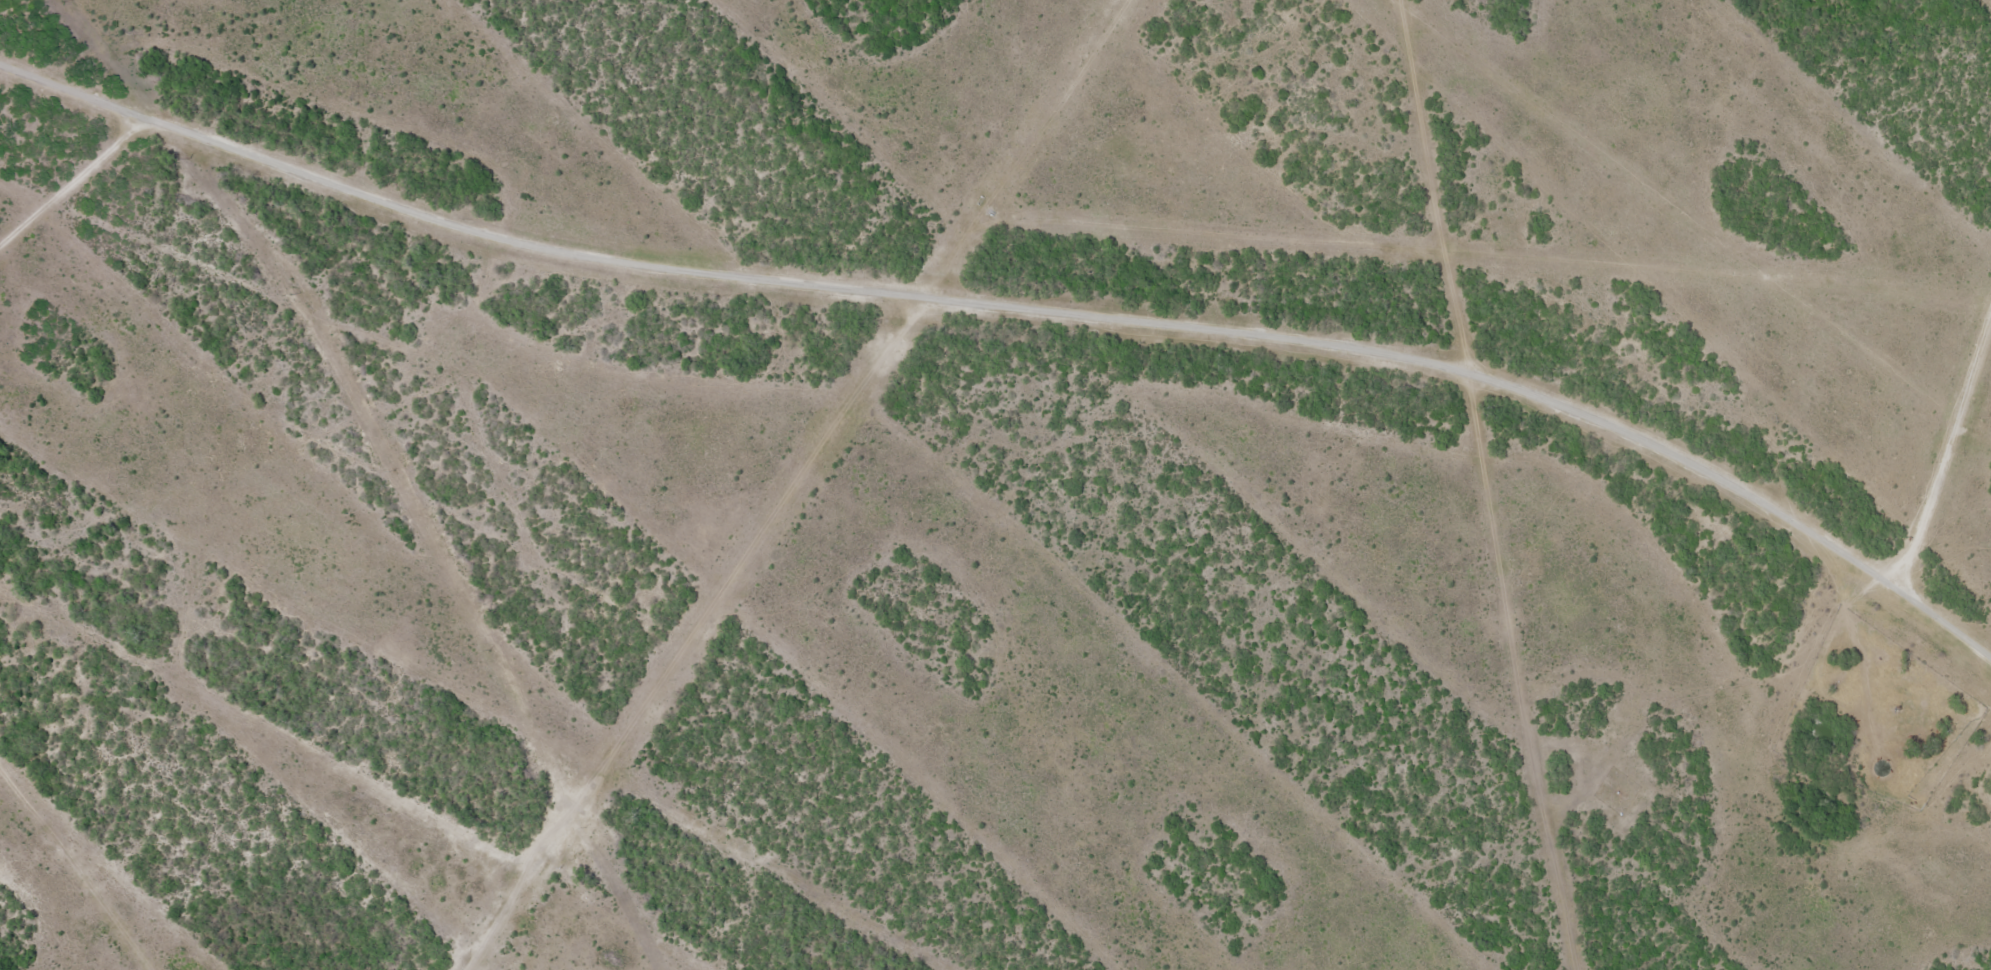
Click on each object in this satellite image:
road: (952, 312)
road: (1913, 523)

